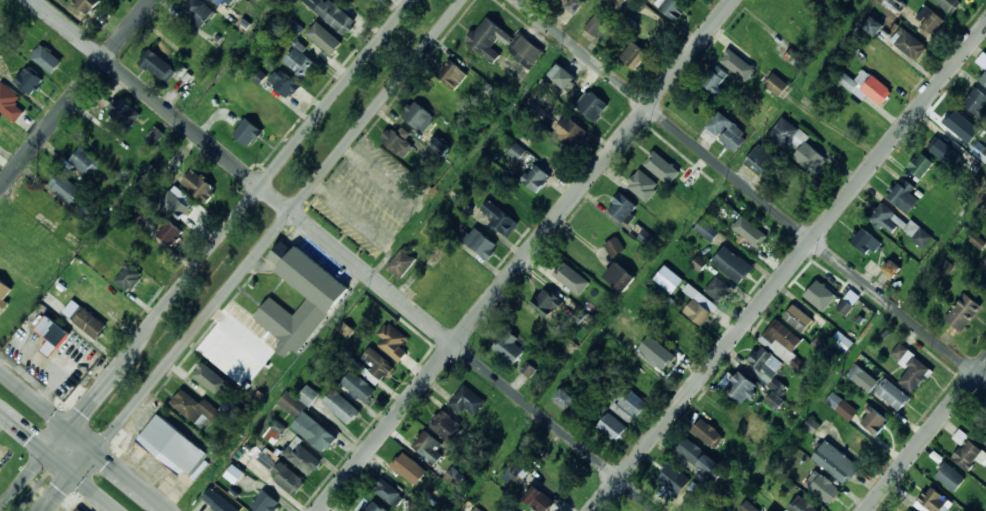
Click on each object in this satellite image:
building: (623, 1)
building: (222, 2)
building: (87, 5)
building: (894, 5)
building: (949, 5)
building: (575, 6)
building: (671, 8)
building: (197, 12)
building: (332, 14)
building: (930, 21)
building: (598, 22)
building: (875, 25)
building: (653, 30)
building: (488, 40)
building: (323, 41)
building: (910, 45)
building: (527, 50)
building: (635, 56)
building: (46, 58)
building: (982, 60)
building: (301, 61)
building: (158, 65)
building: (746, 65)
building: (890, 65)
building: (452, 74)
building: (562, 77)
building: (29, 80)
building: (716, 80)
building: (984, 80)
building: (285, 82)
building: (778, 84)
building: (869, 87)
road: (76, 93)
building: (255, 99)
building: (10, 103)
building: (977, 103)
building: (592, 105)
building: (124, 111)
building: (853, 114)
building: (418, 115)
building: (962, 122)
building: (248, 131)
building: (572, 131)
building: (725, 132)
building: (784, 132)
building: (156, 134)
building: (102, 141)
building: (396, 141)
building: (440, 147)
building: (555, 149)
building: (517, 152)
building: (946, 153)
road: (470, 158)
building: (810, 158)
building: (761, 160)
building: (660, 161)
building: (85, 162)
building: (921, 164)
building: (536, 177)
building: (198, 185)
building: (642, 185)
building: (65, 188)
road: (751, 191)
building: (901, 191)
building: (175, 205)
building: (622, 207)
building: (86, 210)
building: (672, 211)
building: (498, 217)
building: (884, 218)
building: (714, 220)
building: (23, 228)
building: (167, 229)
building: (749, 231)
building: (641, 234)
building: (922, 238)
building: (866, 242)
building: (481, 243)
building: (615, 246)
building: (4, 252)
road: (206, 254)
road: (253, 255)
road: (347, 255)
road: (527, 255)
building: (401, 263)
building: (733, 264)
building: (985, 265)
road: (789, 268)
building: (891, 268)
building: (620, 276)
building: (127, 277)
building: (572, 279)
building: (668, 279)
building: (717, 288)
building: (5, 292)
building: (822, 297)
building: (110, 299)
building: (449, 299)
building: (547, 302)
building: (850, 302)
building: (318, 306)
building: (73, 309)
building: (698, 311)
building: (964, 311)
building: (799, 318)
building: (90, 323)
building: (529, 324)
building: (681, 333)
building: (53, 334)
building: (784, 336)
building: (392, 341)
building: (509, 347)
building: (660, 358)
building: (767, 361)
building: (378, 363)
building: (911, 366)
building: (528, 369)
building: (206, 377)
building: (862, 378)
building: (359, 386)
building: (742, 386)
building: (775, 394)
building: (892, 394)
building: (565, 398)
building: (834, 400)
building: (467, 402)
building: (632, 402)
building: (342, 406)
building: (196, 408)
building: (308, 419)
building: (874, 419)
building: (447, 426)
traffic signals: (66, 427)
building: (612, 427)
building: (275, 432)
building: (758, 432)
building: (708, 433)
road: (926, 436)
road: (84, 442)
building: (860, 443)
building: (171, 446)
building: (429, 447)
traffic signals: (47, 451)
traffic signals: (96, 451)
building: (692, 451)
building: (968, 451)
building: (245, 453)
building: (268, 458)
road: (59, 461)
building: (836, 462)
building: (296, 467)
building: (409, 469)
building: (517, 472)
building: (234, 474)
traffic signals: (76, 475)
building: (557, 476)
building: (454, 477)
building: (950, 477)
building: (673, 478)
road: (37, 485)
building: (825, 487)
building: (389, 492)
building: (540, 499)
building: (931, 500)
building: (218, 501)
building: (265, 502)
building: (802, 504)
building: (373, 506)
building: (749, 507)
building: (507, 509)
building: (909, 509)
building: (81, 510)
building: (774, 510)

